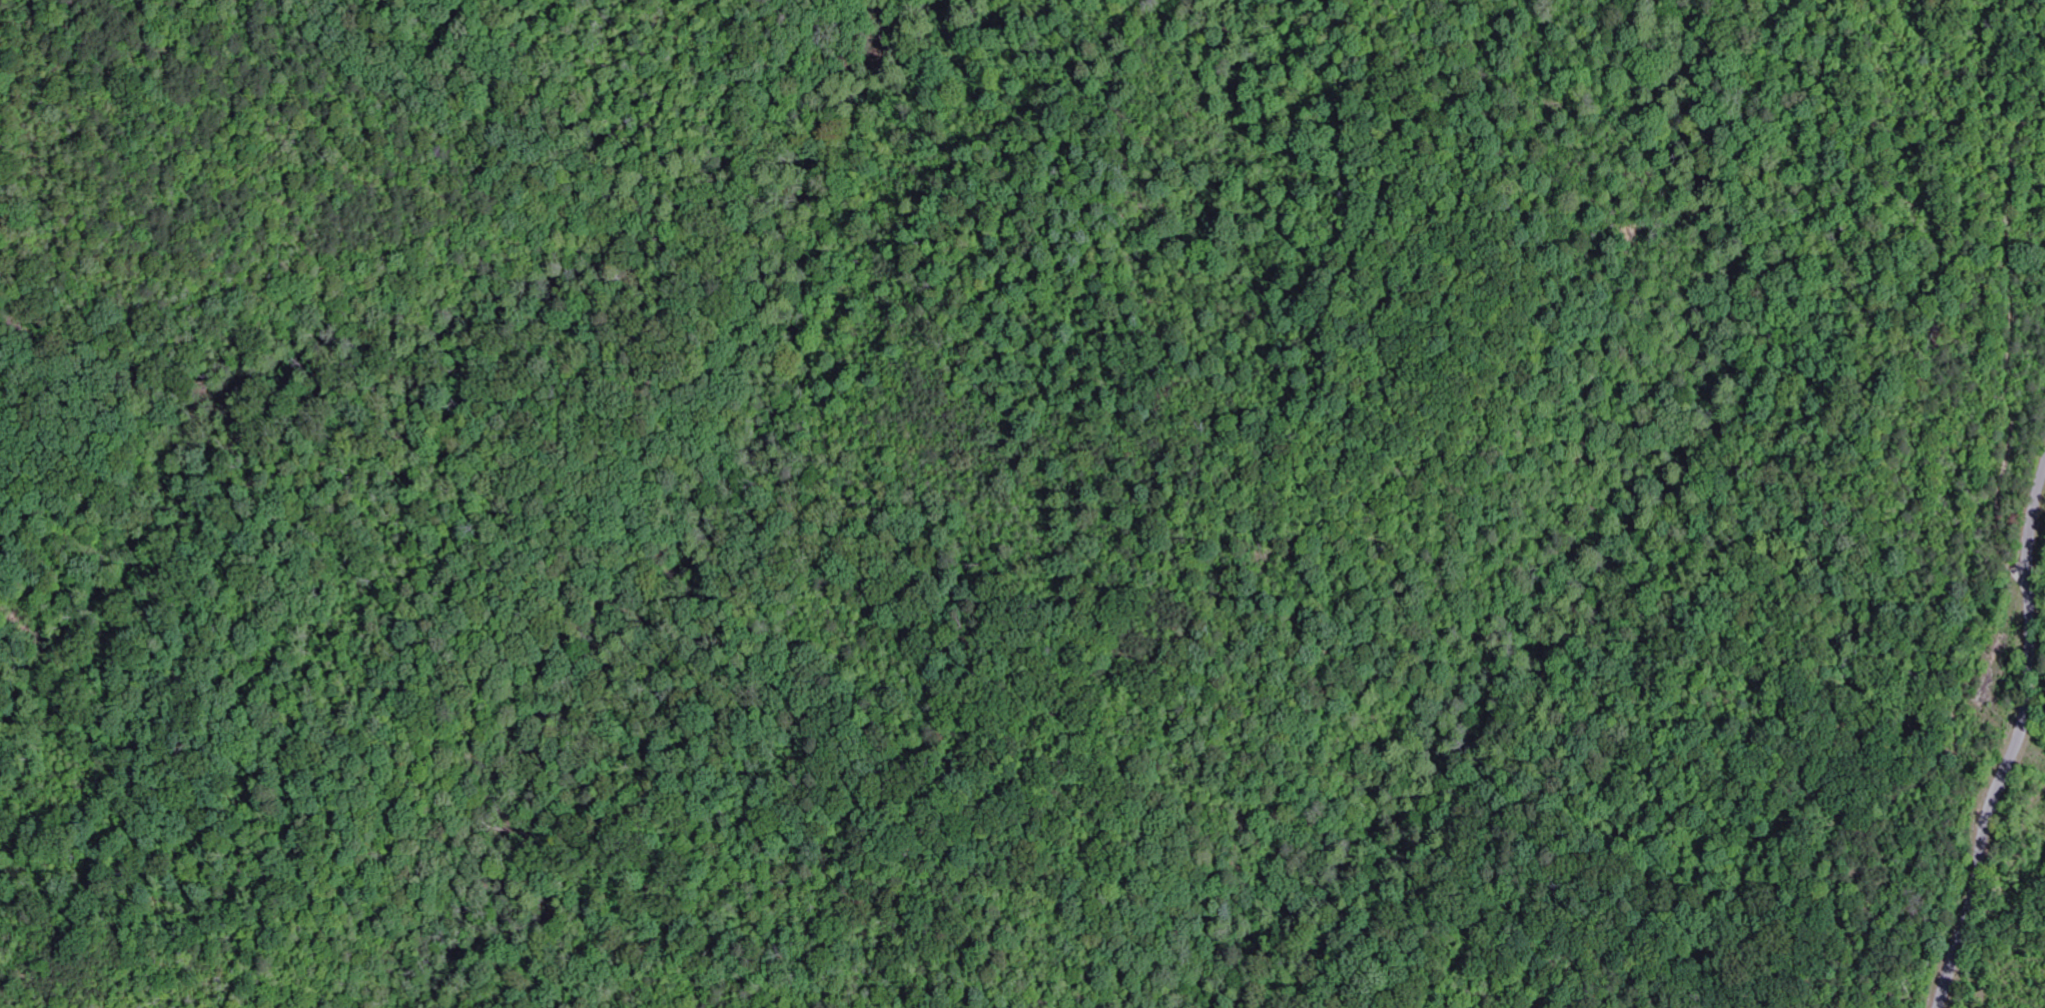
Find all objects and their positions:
road: (2015, 740)

